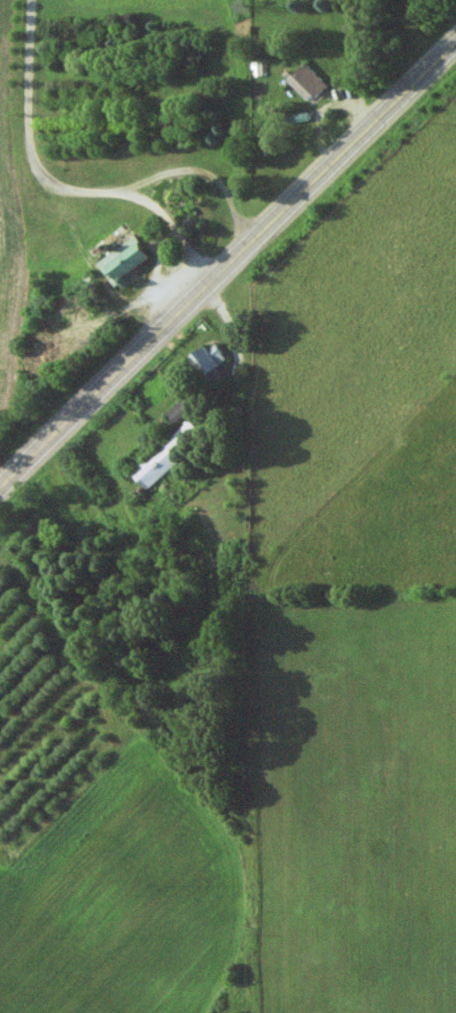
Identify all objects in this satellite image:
building: (307, 84)
road: (202, 176)
road: (54, 186)
building: (123, 261)
road: (227, 263)
building: (209, 365)
building: (179, 409)
building: (167, 455)

